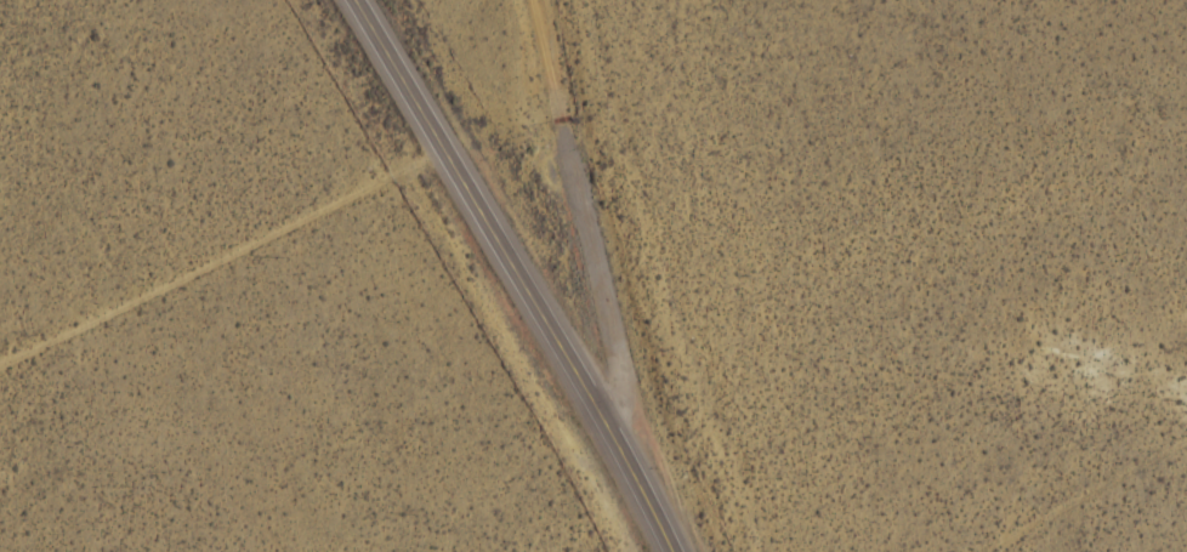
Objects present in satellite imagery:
road: (602, 238)
road: (231, 258)
road: (536, 272)

